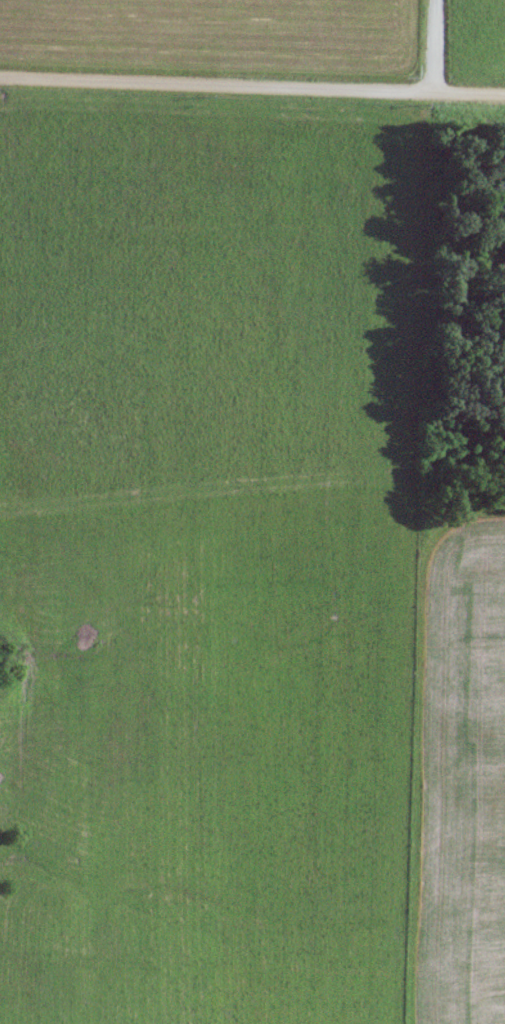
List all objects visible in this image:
road: (433, 45)
road: (252, 85)

